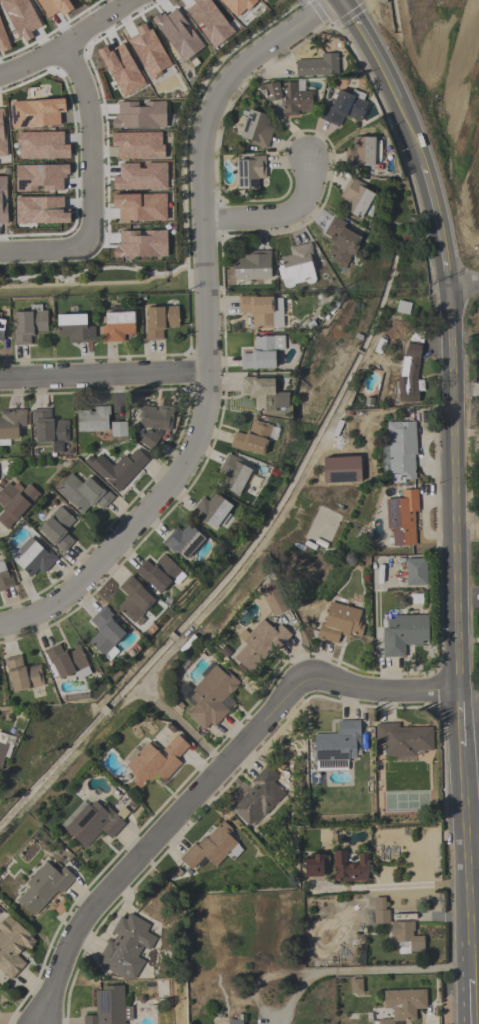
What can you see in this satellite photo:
building: (84, 0)
building: (264, 0)
building: (237, 5)
building: (54, 6)
building: (20, 17)
building: (209, 20)
building: (177, 33)
road: (67, 38)
building: (3, 40)
road: (369, 47)
building: (150, 52)
building: (318, 66)
building: (121, 68)
crop: (444, 92)
building: (289, 97)
building: (344, 107)
building: (37, 111)
building: (139, 114)
building: (256, 129)
road: (410, 131)
building: (2, 134)
building: (41, 144)
building: (138, 144)
building: (362, 152)
building: (250, 172)
building: (40, 176)
building: (141, 176)
road: (89, 183)
building: (357, 199)
building: (3, 202)
building: (140, 205)
building: (40, 209)
road: (278, 216)
road: (439, 224)
building: (341, 242)
building: (141, 243)
building: (253, 266)
building: (297, 266)
road: (464, 283)
building: (262, 311)
building: (0, 314)
building: (160, 321)
building: (29, 324)
building: (118, 325)
building: (74, 328)
building: (1, 329)
road: (206, 333)
building: (262, 353)
building: (410, 370)
road: (104, 377)
building: (264, 394)
building: (92, 419)
building: (154, 424)
building: (10, 425)
building: (49, 429)
building: (118, 429)
building: (252, 438)
building: (400, 451)
building: (384, 458)
building: (117, 469)
building: (341, 469)
building: (234, 474)
road: (456, 489)
building: (83, 494)
building: (14, 503)
building: (211, 511)
building: (402, 518)
building: (58, 529)
building: (183, 541)
building: (34, 558)
building: (415, 571)
building: (160, 574)
building: (5, 578)
building: (273, 598)
building: (134, 601)
building: (340, 623)
building: (105, 634)
building: (403, 634)
building: (259, 644)
building: (67, 662)
building: (22, 675)
road: (470, 694)
building: (210, 697)
road: (462, 719)
building: (403, 740)
building: (337, 747)
building: (2, 748)
building: (155, 762)
road: (207, 781)
building: (259, 797)
building: (95, 823)
road: (467, 825)
building: (213, 848)
building: (316, 866)
building: (349, 868)
road: (391, 885)
building: (44, 887)
building: (380, 912)
road: (438, 914)
road: (472, 925)
building: (406, 938)
building: (12, 947)
building: (126, 948)
road: (472, 962)
road: (316, 973)
building: (356, 986)
road: (474, 1002)
building: (403, 1004)
building: (108, 1006)
building: (234, 1022)

